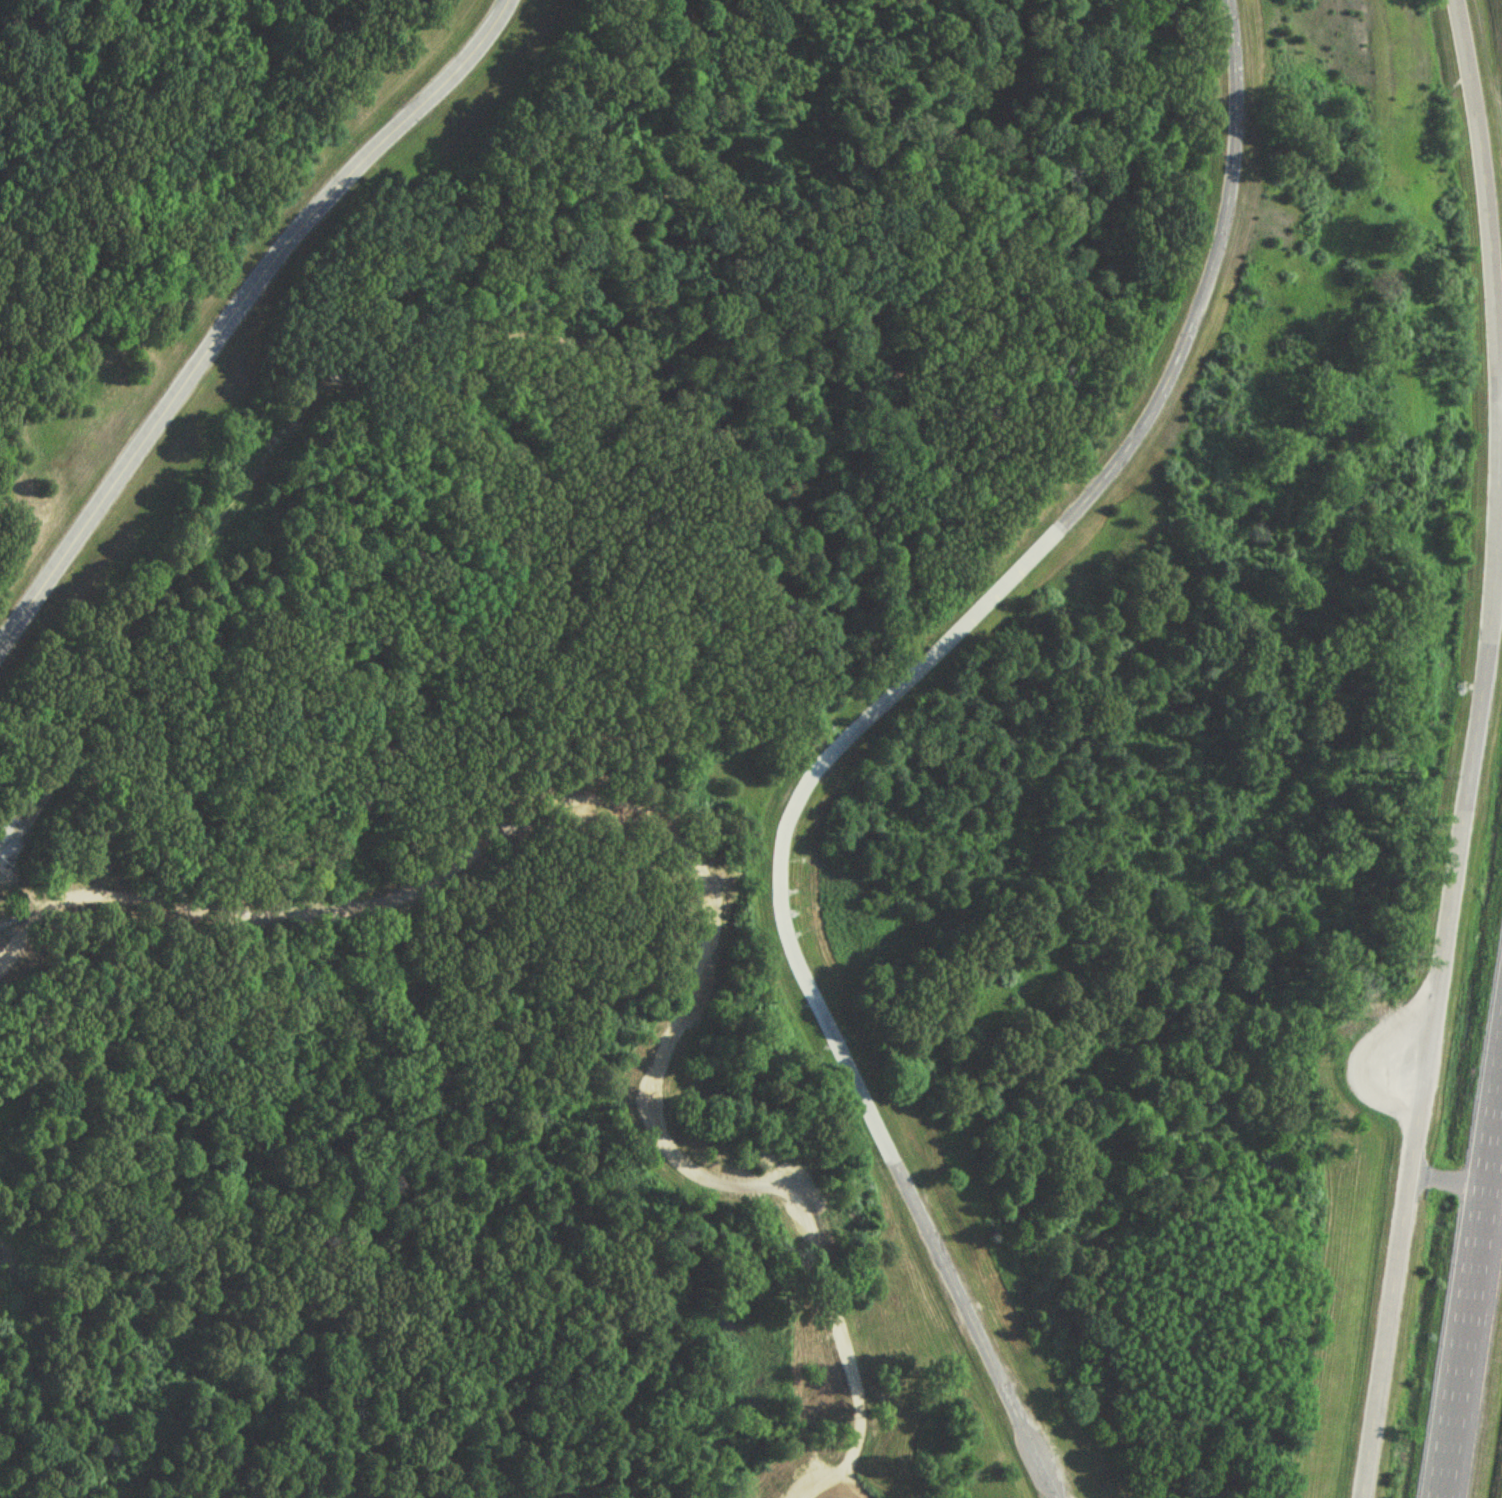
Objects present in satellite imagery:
raceway: (238, 308)
road: (1499, 584)
road: (857, 725)
raceway: (1473, 750)
road: (697, 857)
road: (13, 921)
raceway: (1475, 1313)
road: (848, 1490)

